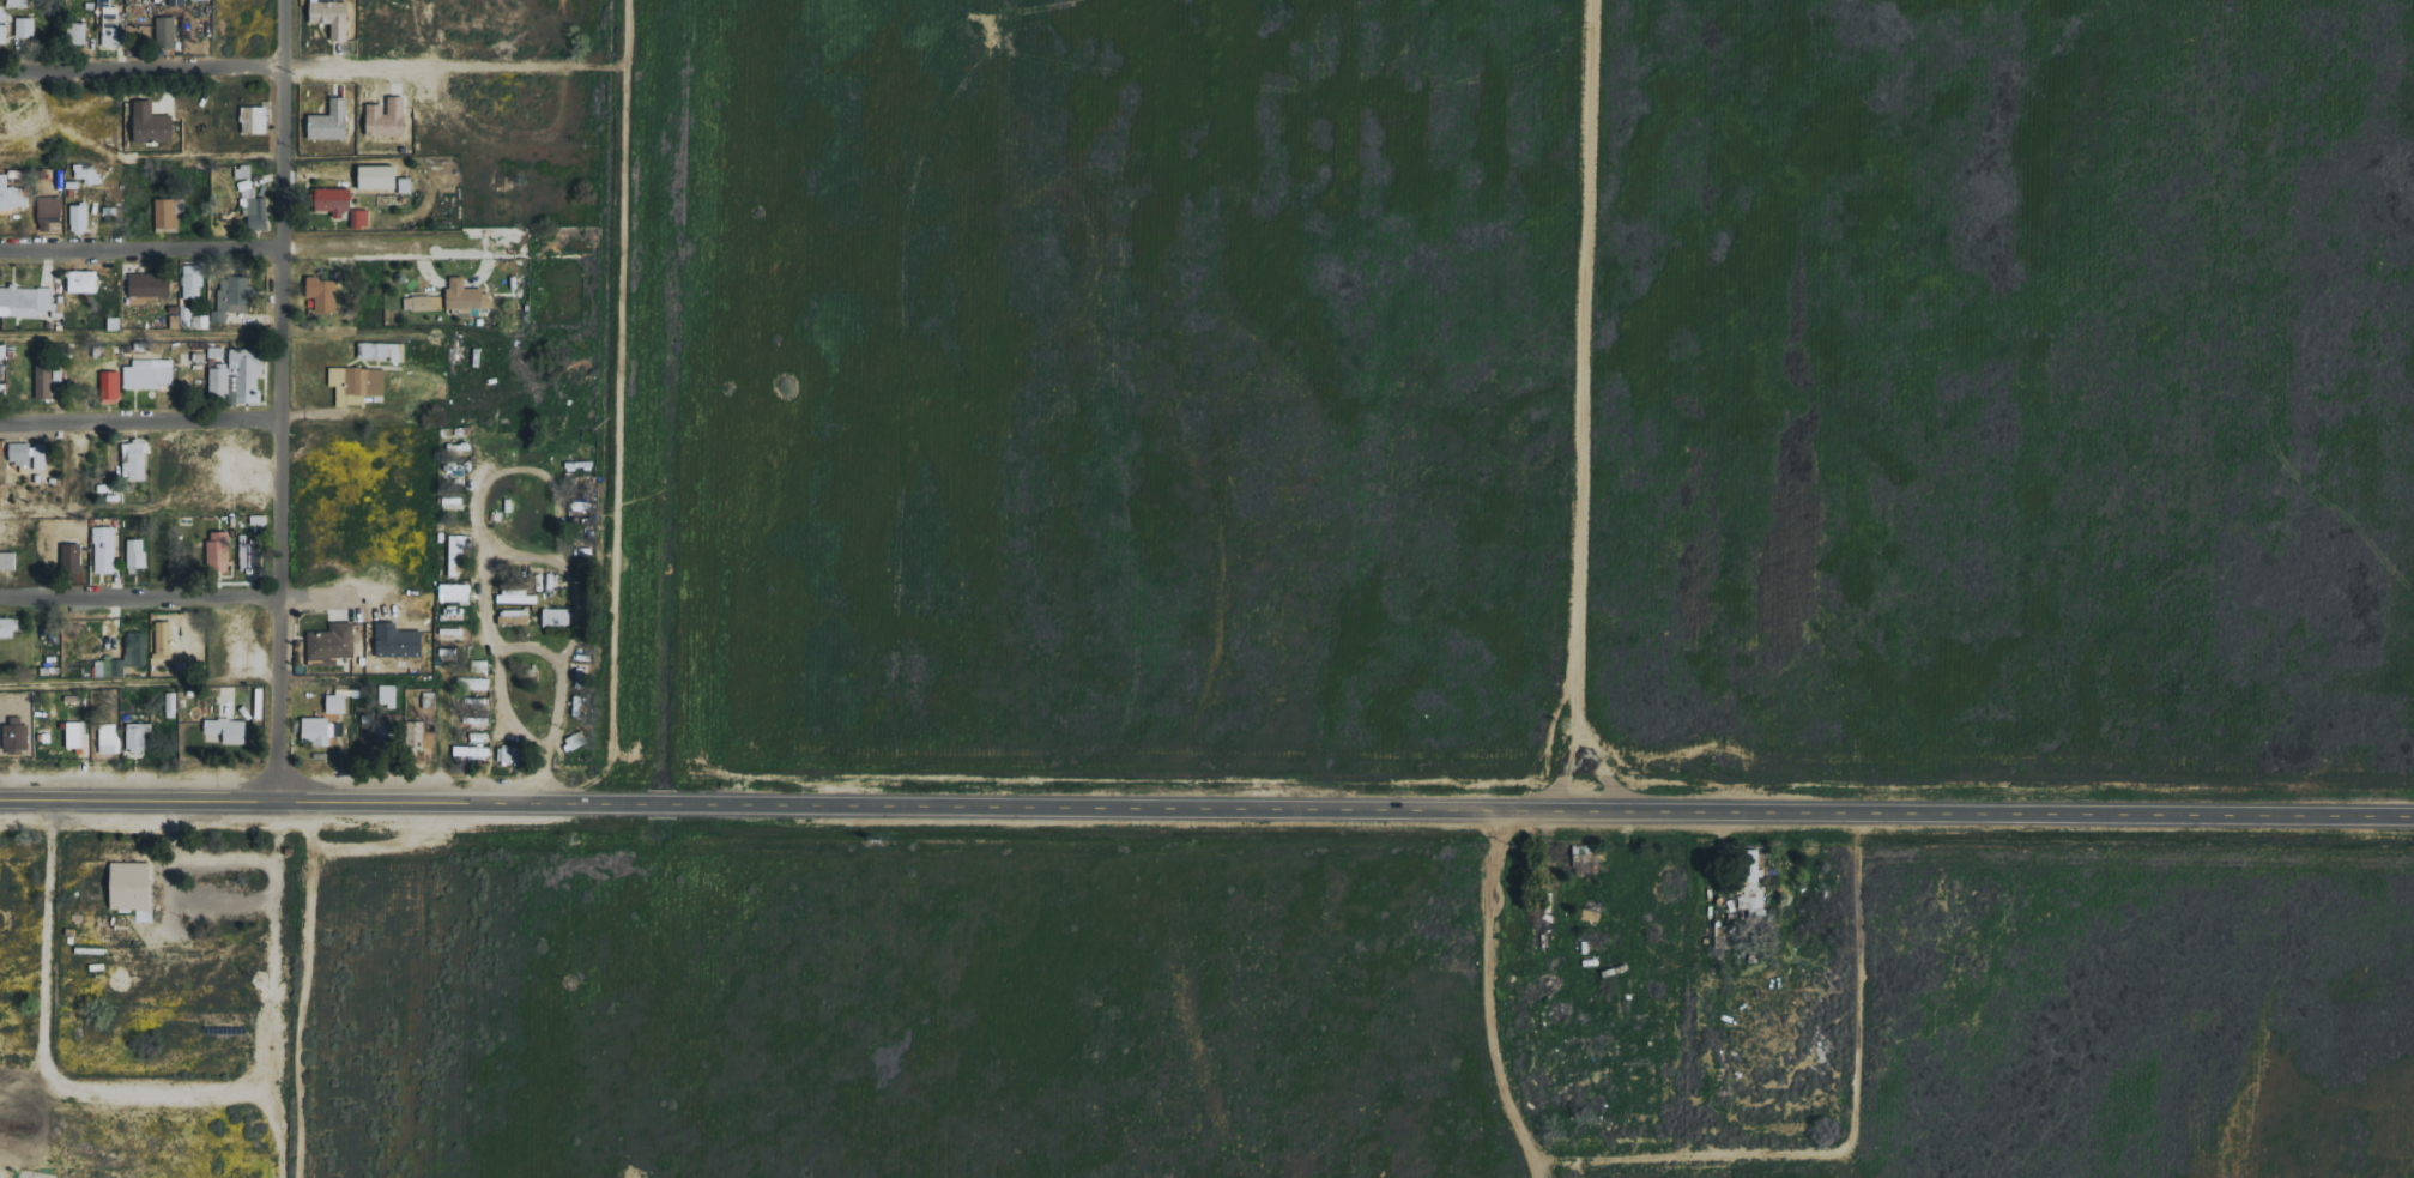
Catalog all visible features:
building: (179, 2)
building: (333, 17)
building: (4, 24)
building: (111, 25)
building: (26, 26)
building: (167, 31)
building: (78, 32)
road: (286, 34)
road: (447, 66)
road: (143, 70)
building: (388, 116)
building: (255, 119)
building: (331, 121)
building: (152, 123)
building: (89, 173)
building: (379, 176)
building: (406, 185)
building: (11, 194)
building: (253, 200)
building: (334, 200)
road: (607, 210)
building: (50, 212)
building: (167, 212)
building: (361, 217)
building: (80, 218)
road: (303, 247)
building: (83, 280)
building: (194, 280)
building: (150, 284)
building: (323, 294)
building: (466, 295)
building: (232, 296)
building: (25, 301)
building: (424, 302)
building: (201, 320)
building: (383, 350)
building: (2, 351)
building: (149, 373)
building: (44, 381)
building: (357, 383)
building: (109, 385)
crop: (1519, 388)
road: (504, 419)
road: (200, 422)
road: (285, 431)
building: (2, 446)
building: (20, 453)
building: (137, 459)
building: (104, 549)
building: (219, 550)
building: (456, 551)
building: (137, 554)
building: (72, 556)
building: (252, 556)
building: (456, 592)
building: (518, 596)
road: (222, 600)
building: (514, 616)
building: (557, 616)
building: (7, 627)
building: (164, 640)
building: (398, 640)
building: (333, 641)
building: (137, 645)
road: (411, 667)
building: (476, 683)
building: (388, 695)
building: (429, 699)
building: (338, 701)
building: (173, 703)
building: (229, 729)
building: (319, 730)
building: (17, 732)
building: (75, 735)
building: (139, 736)
building: (109, 739)
building: (472, 751)
building: (512, 754)
road: (1206, 802)
building: (125, 887)
park: (26, 954)

